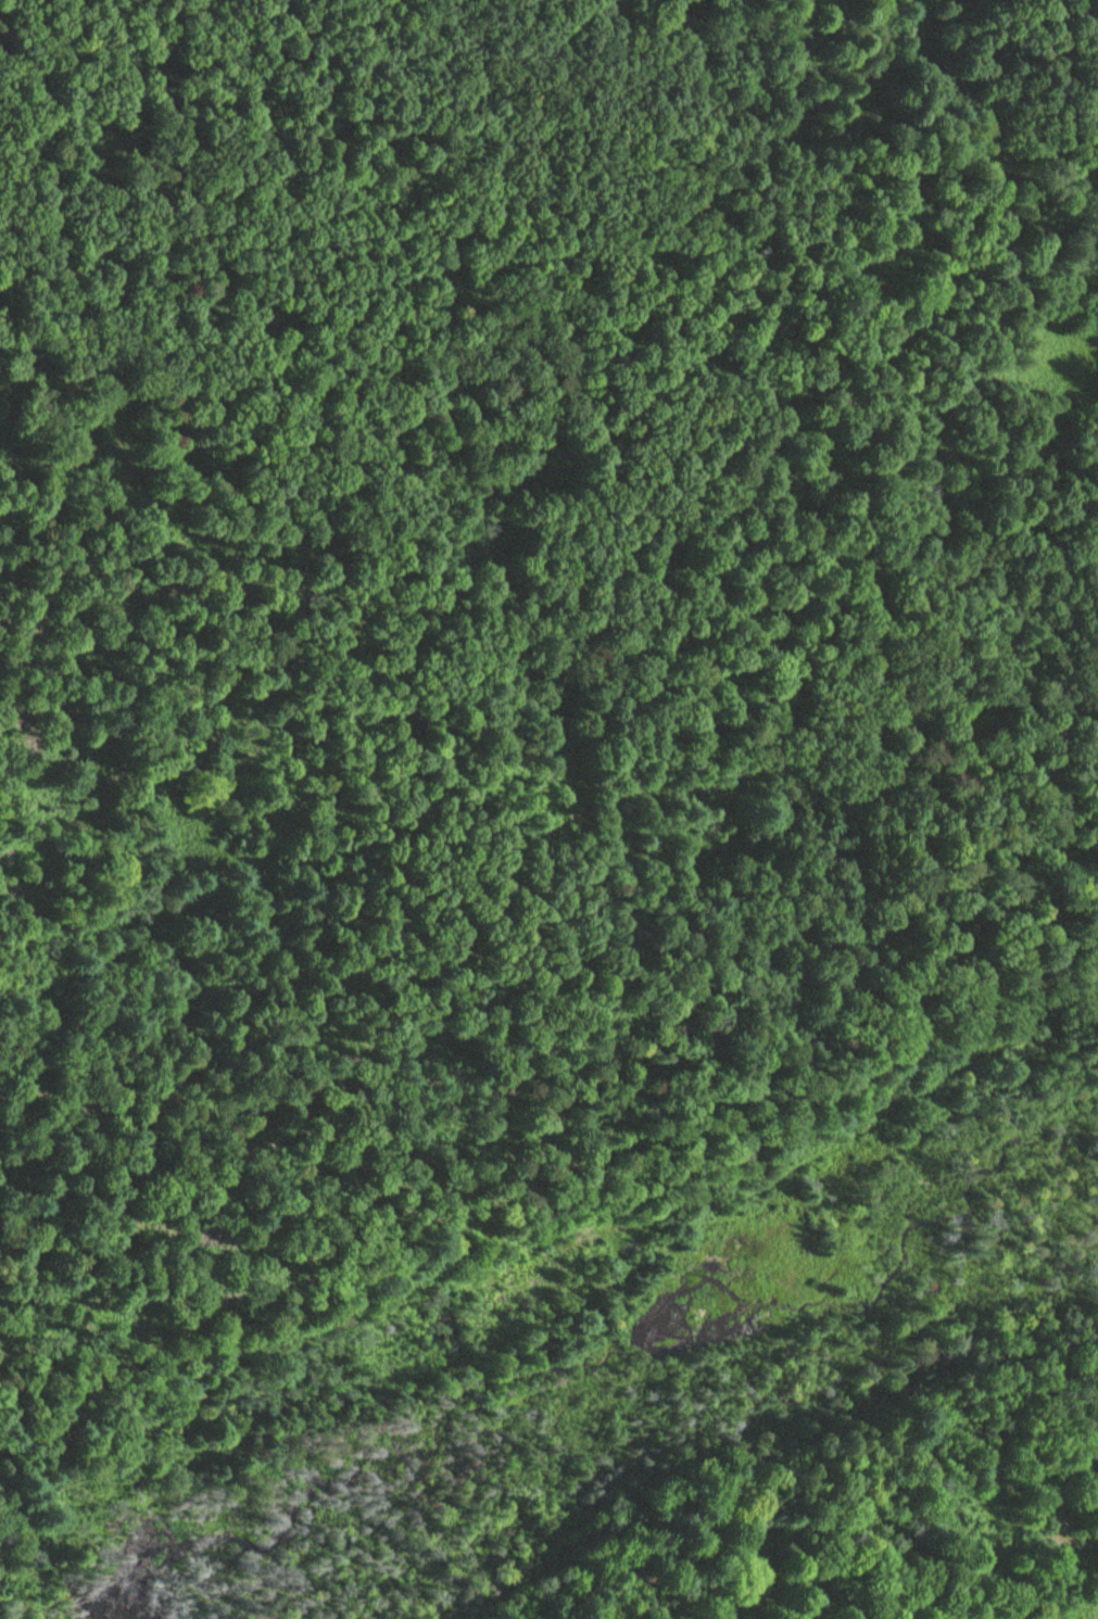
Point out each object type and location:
river: (616, 1357)

